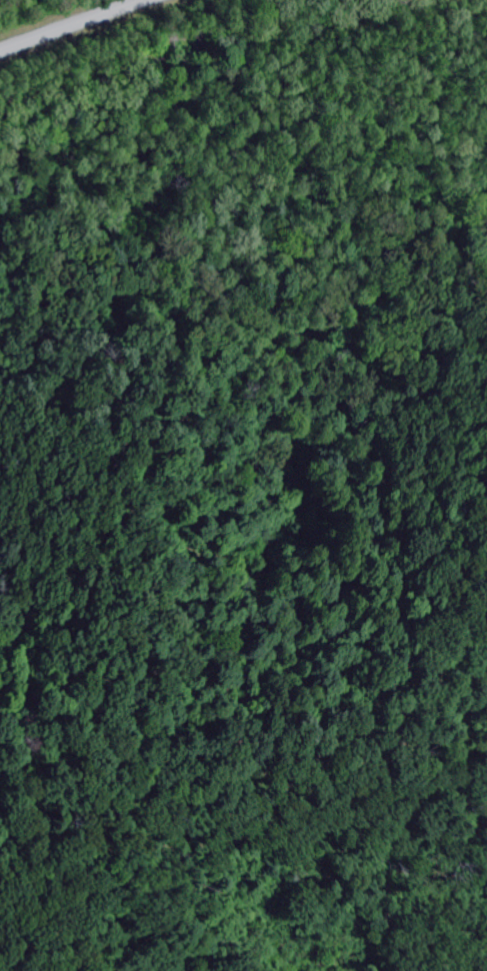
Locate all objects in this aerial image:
road: (71, 22)

